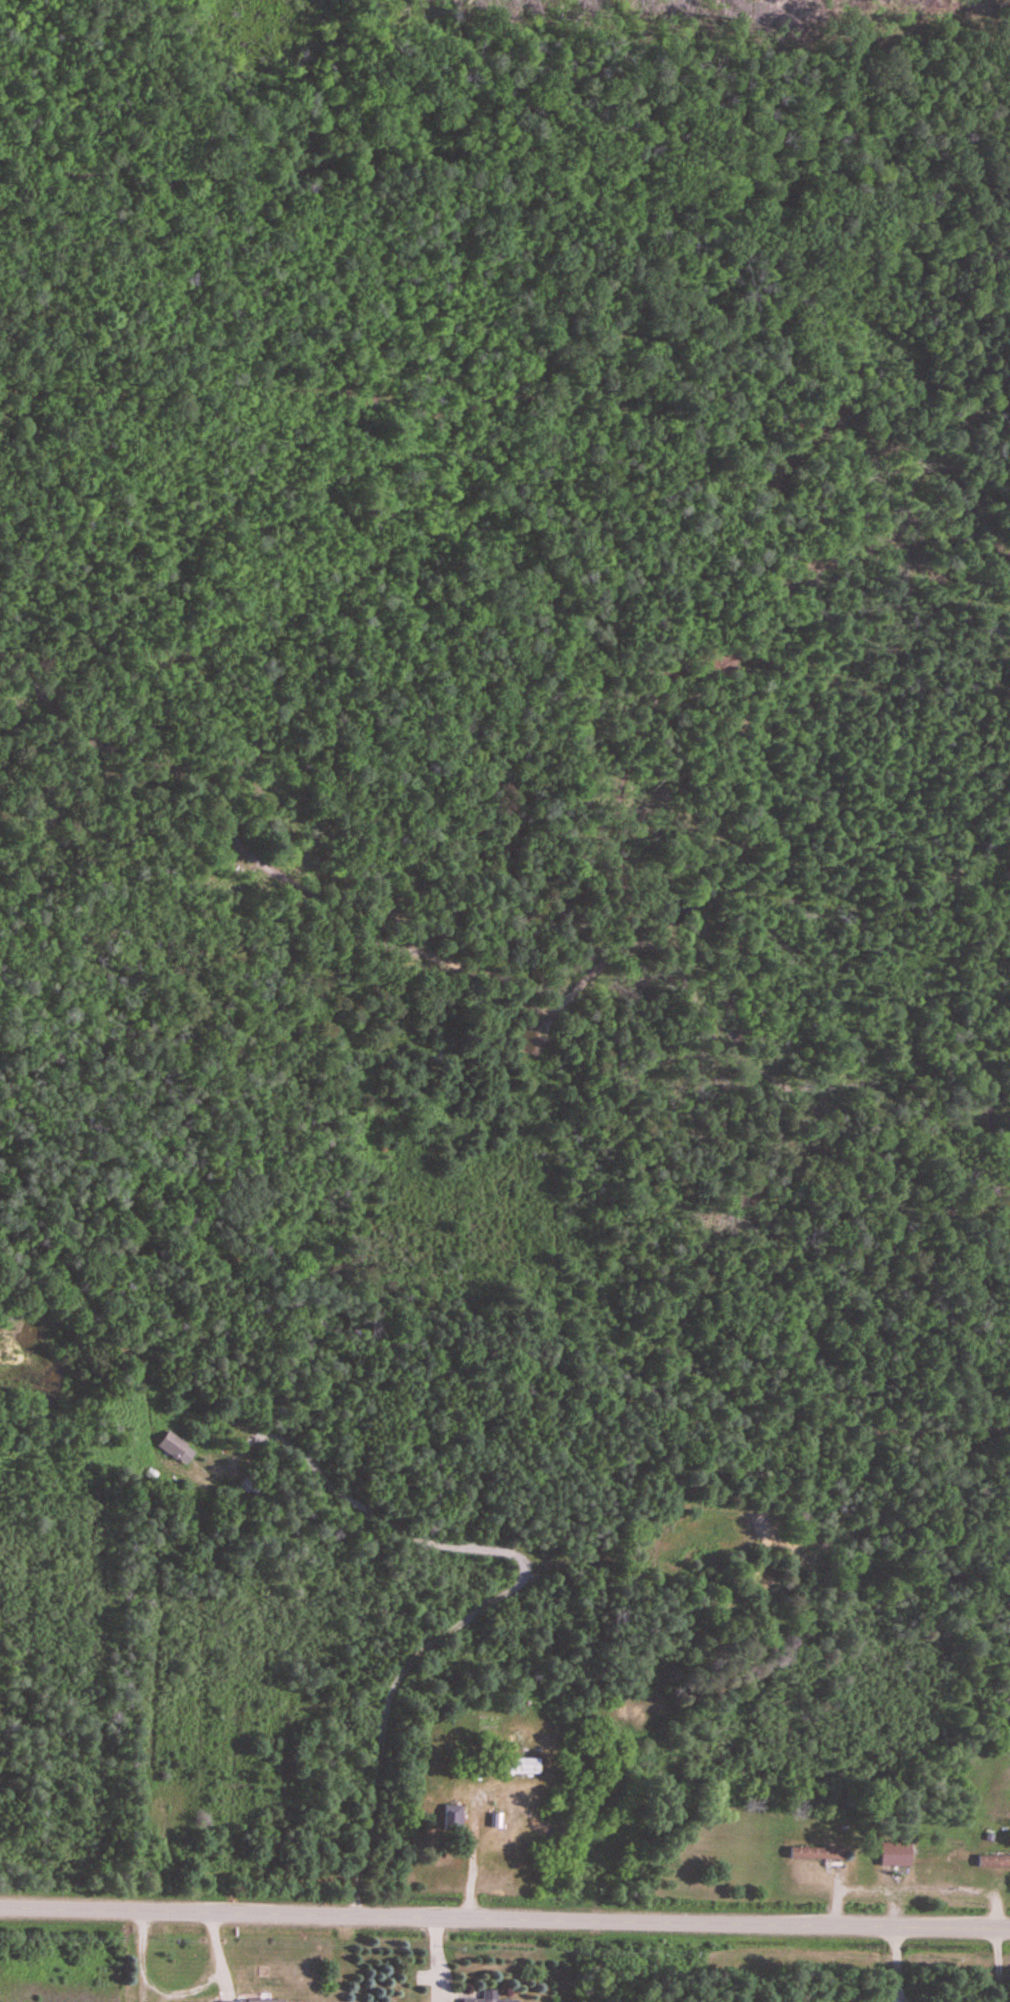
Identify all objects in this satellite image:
building: (518, 1767)
building: (452, 1819)
building: (817, 1854)
building: (895, 1855)
building: (993, 1862)
road: (504, 1918)
building: (489, 1997)
building: (252, 2001)

